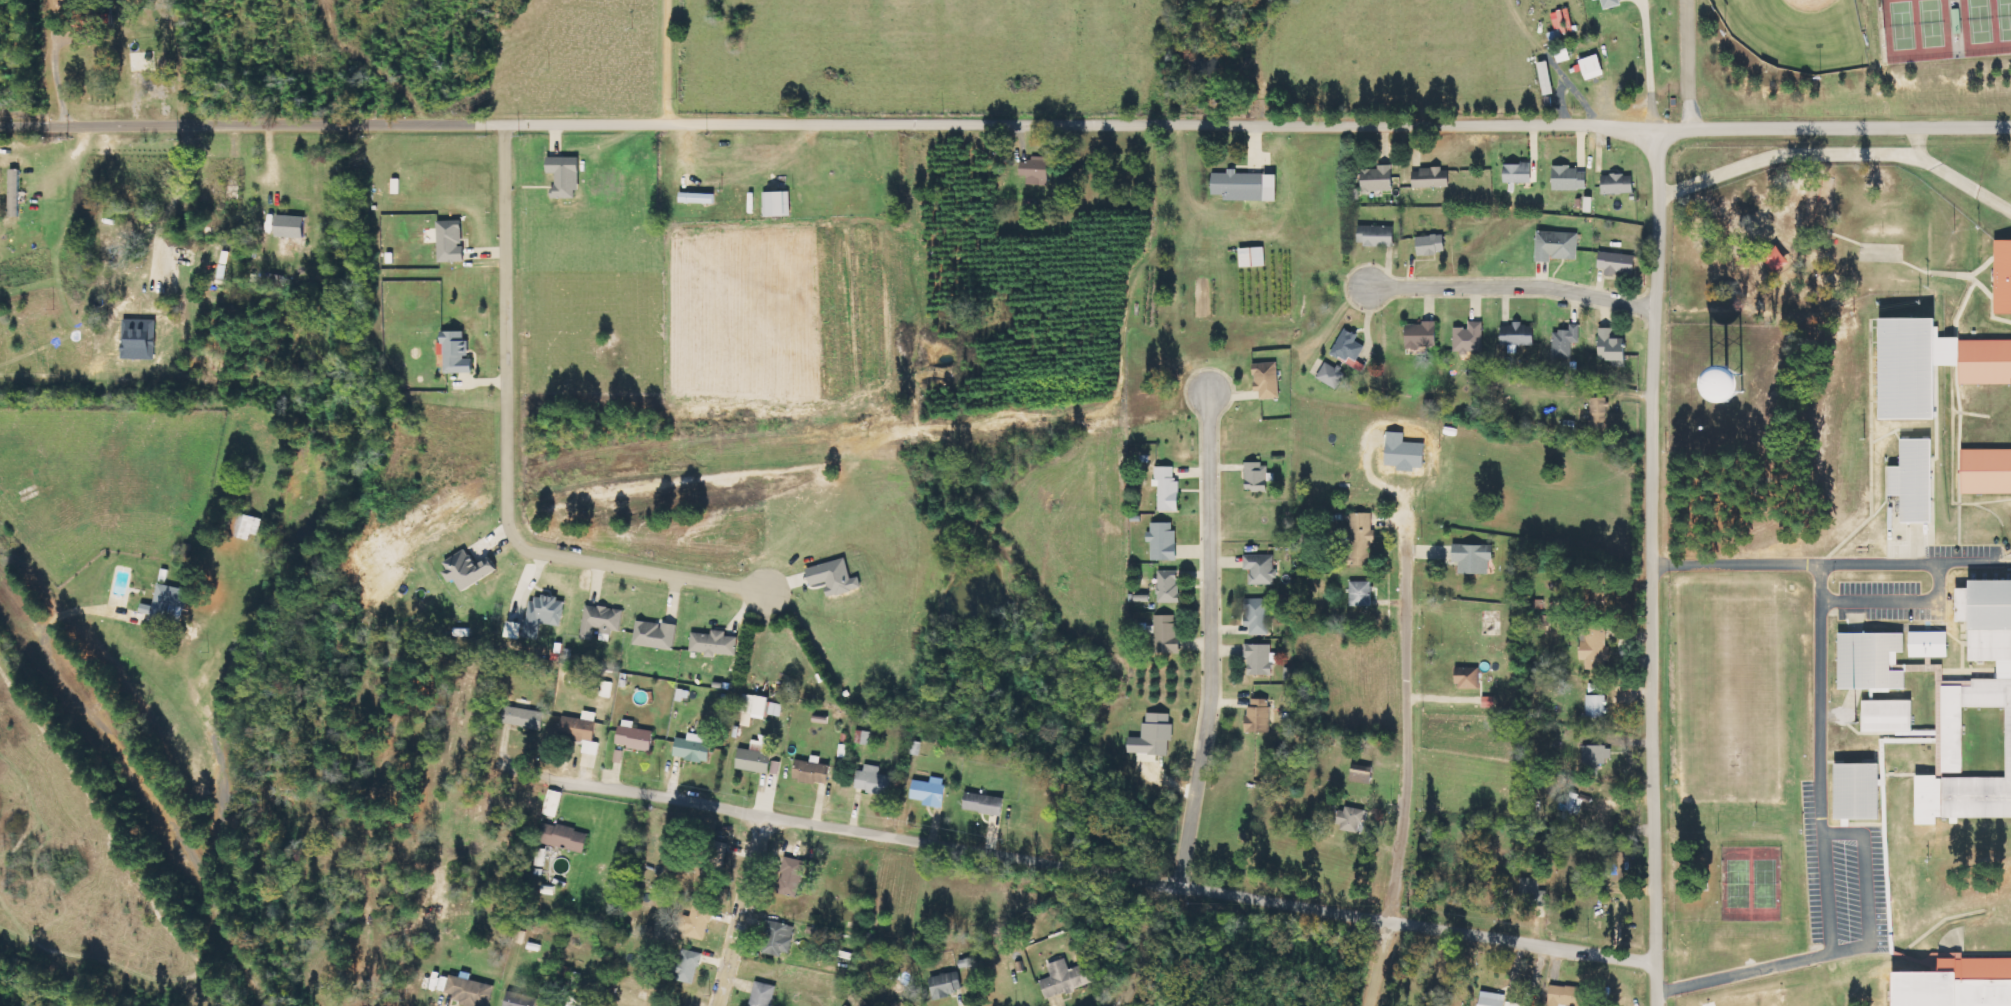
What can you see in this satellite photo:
building: (1612, 3)
park: (2003, 18)
building: (93, 20)
park: (1976, 20)
park: (1928, 22)
park: (1899, 23)
park: (1796, 33)
park: (1838, 60)
road: (1686, 64)
building: (1593, 67)
building: (1546, 78)
road: (109, 82)
road: (373, 125)
road: (1379, 125)
building: (1037, 170)
building: (1519, 173)
building: (566, 176)
road: (1952, 177)
building: (1432, 178)
building: (1571, 178)
building: (1379, 179)
building: (1619, 184)
building: (1246, 186)
building: (14, 193)
building: (697, 198)
building: (777, 204)
building: (291, 226)
building: (1377, 236)
building: (451, 241)
building: (1432, 245)
building: (1557, 246)
building: (1253, 257)
building: (1778, 260)
building: (1618, 263)
building: (2003, 274)
road: (1508, 283)
building: (1519, 334)
building: (1422, 336)
building: (1470, 338)
building: (140, 339)
building: (1566, 341)
building: (1349, 346)
building: (1612, 346)
building: (457, 353)
building: (1984, 360)
building: (1356, 364)
building: (1911, 366)
building: (1331, 375)
building: (1267, 380)
building: (1747, 386)
building: (1600, 413)
building: (1405, 453)
road: (502, 460)
building: (1986, 469)
building: (1257, 477)
building: (1913, 479)
building: (1168, 489)
building: (247, 526)
building: (1360, 540)
building: (1163, 542)
building: (1474, 558)
road: (1964, 560)
road: (1648, 567)
building: (469, 569)
building: (1261, 569)
building: (835, 578)
road: (1937, 580)
building: (1169, 586)
building: (1361, 594)
parking lot: (1887, 601)
building: (167, 603)
road: (1819, 614)
building: (543, 615)
building: (1258, 616)
building: (1990, 618)
building: (601, 621)
building: (514, 632)
building: (1167, 634)
building: (655, 635)
road: (1205, 639)
building: (1598, 640)
building: (715, 644)
building: (1928, 644)
building: (1869, 659)
building: (1260, 660)
building: (1468, 678)
building: (605, 689)
building: (1489, 702)
building: (1596, 706)
building: (753, 709)
building: (1888, 715)
building: (1259, 716)
building: (524, 718)
building: (582, 731)
road: (1401, 735)
building: (1154, 736)
building: (635, 737)
building: (693, 749)
building: (1972, 752)
building: (1598, 755)
building: (619, 756)
building: (759, 758)
building: (812, 771)
building: (1362, 776)
road: (567, 781)
building: (874, 782)
building: (1858, 790)
building: (930, 792)
building: (553, 804)
building: (985, 804)
building: (1571, 807)
building: (1352, 819)
building: (564, 838)
building: (1619, 868)
building: (792, 877)
parking lot: (1841, 880)
park: (1735, 882)
park: (1761, 883)
road: (1864, 889)
road: (1207, 891)
building: (1532, 893)
road: (1825, 894)
road: (740, 909)
building: (697, 923)
building: (778, 939)
road: (1149, 945)
road: (1377, 963)
building: (688, 966)
road: (1741, 972)
building: (1068, 979)
building: (1958, 984)
building: (947, 985)
building: (468, 991)
building: (763, 995)
building: (1568, 996)
building: (1493, 999)
building: (521, 1000)
building: (859, 1000)
building: (575, 1001)
building: (902, 1004)
building: (1513, 1004)
building: (553, 1005)

